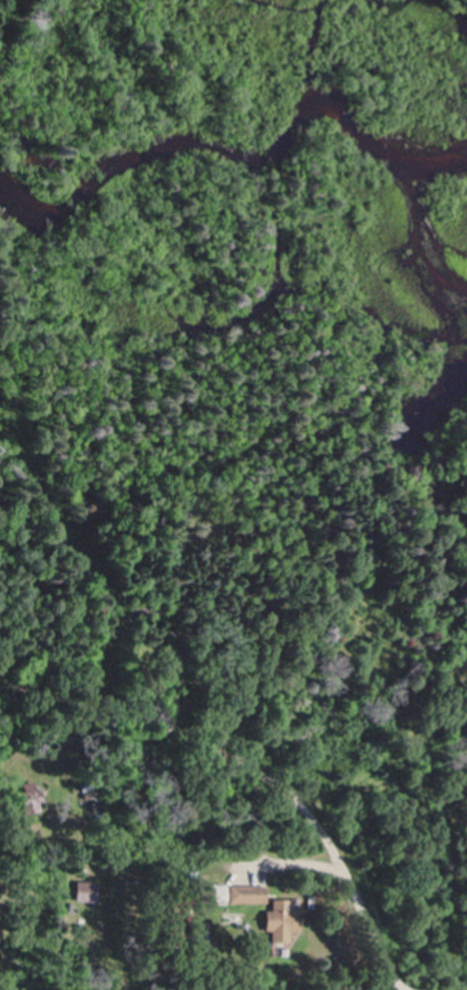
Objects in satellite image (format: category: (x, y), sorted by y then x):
river: (242, 164)
road: (254, 772)
building: (30, 795)
building: (211, 887)
building: (242, 887)
building: (248, 894)
building: (276, 915)

